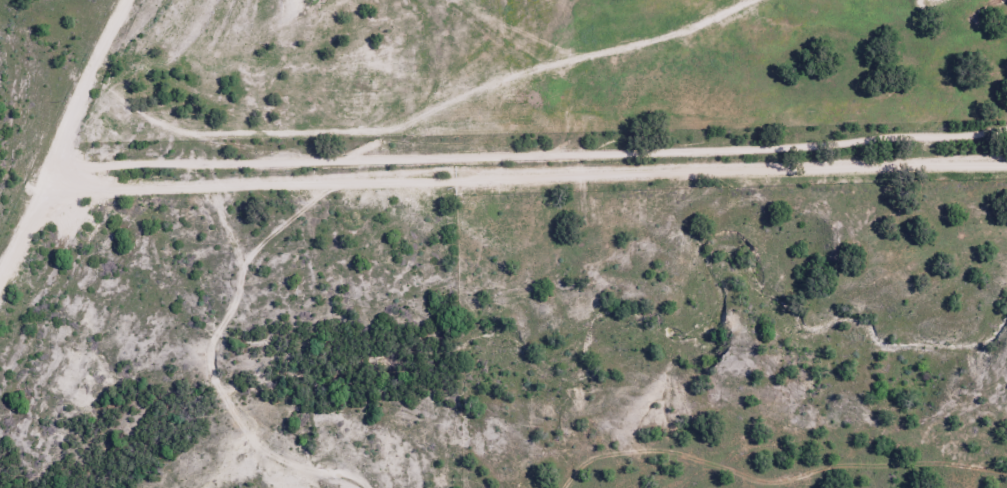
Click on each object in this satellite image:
road: (90, 107)
road: (424, 110)
road: (476, 175)

